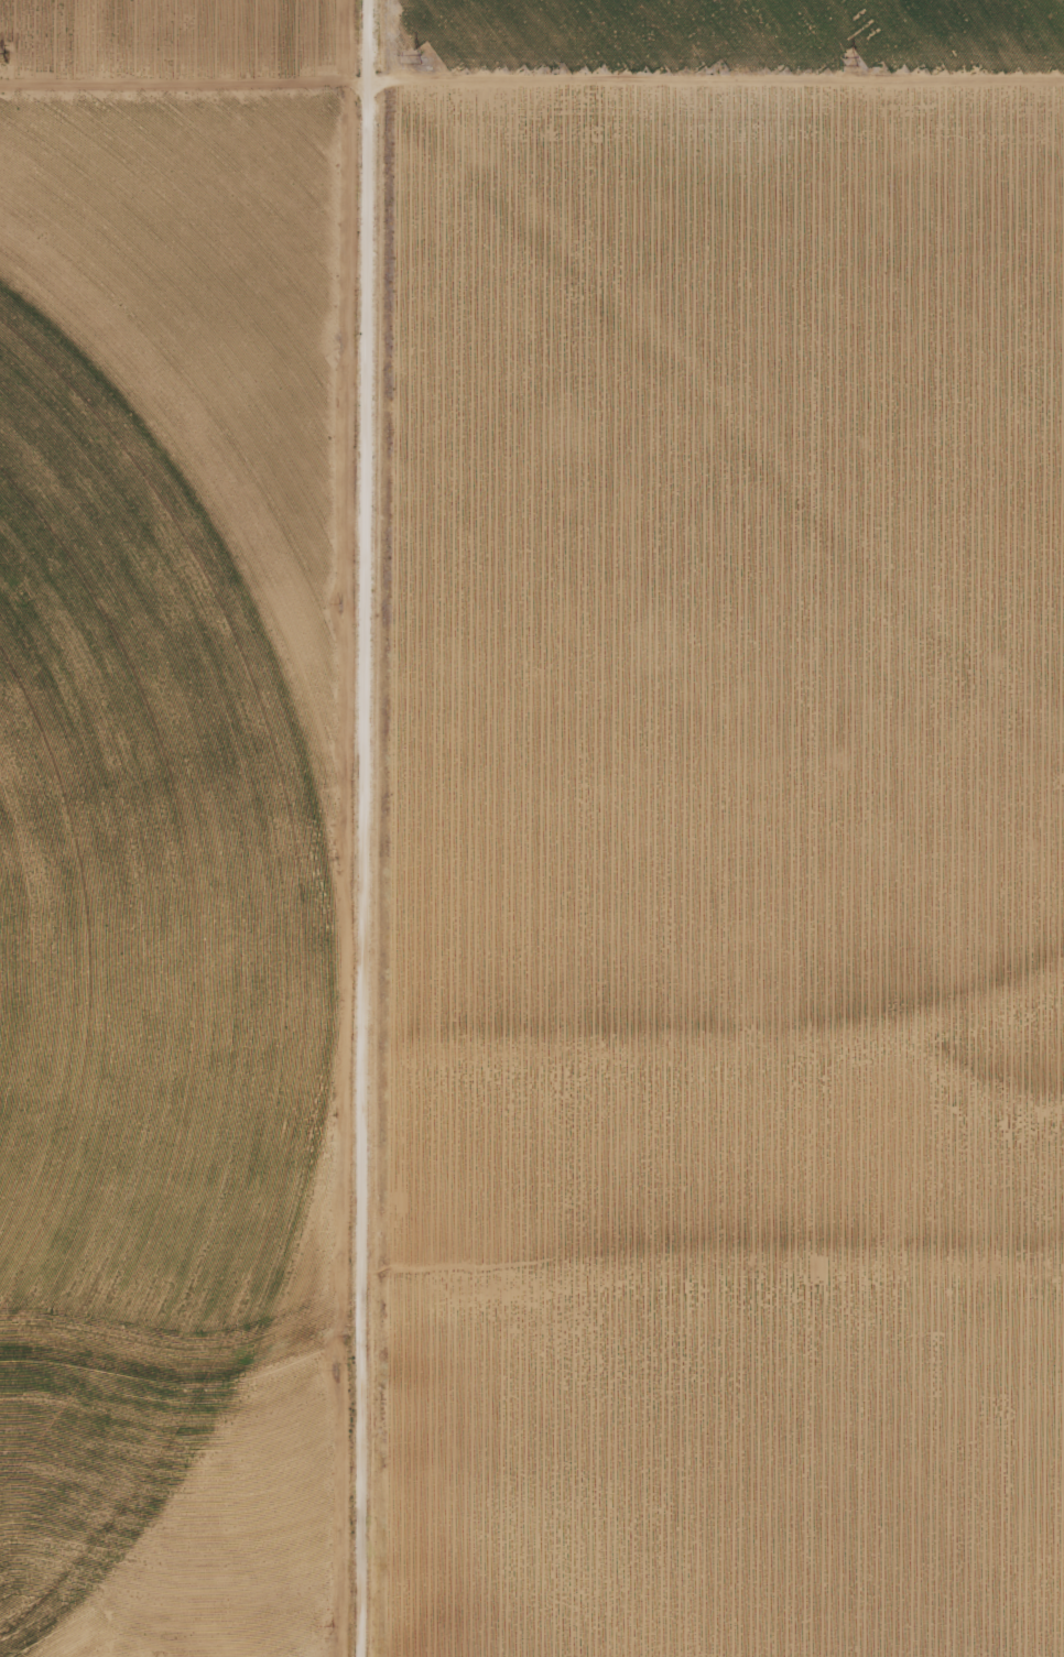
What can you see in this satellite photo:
power tower: (1, 52)
power tower: (412, 54)
power tower: (855, 57)
road: (532, 84)
road: (356, 828)

